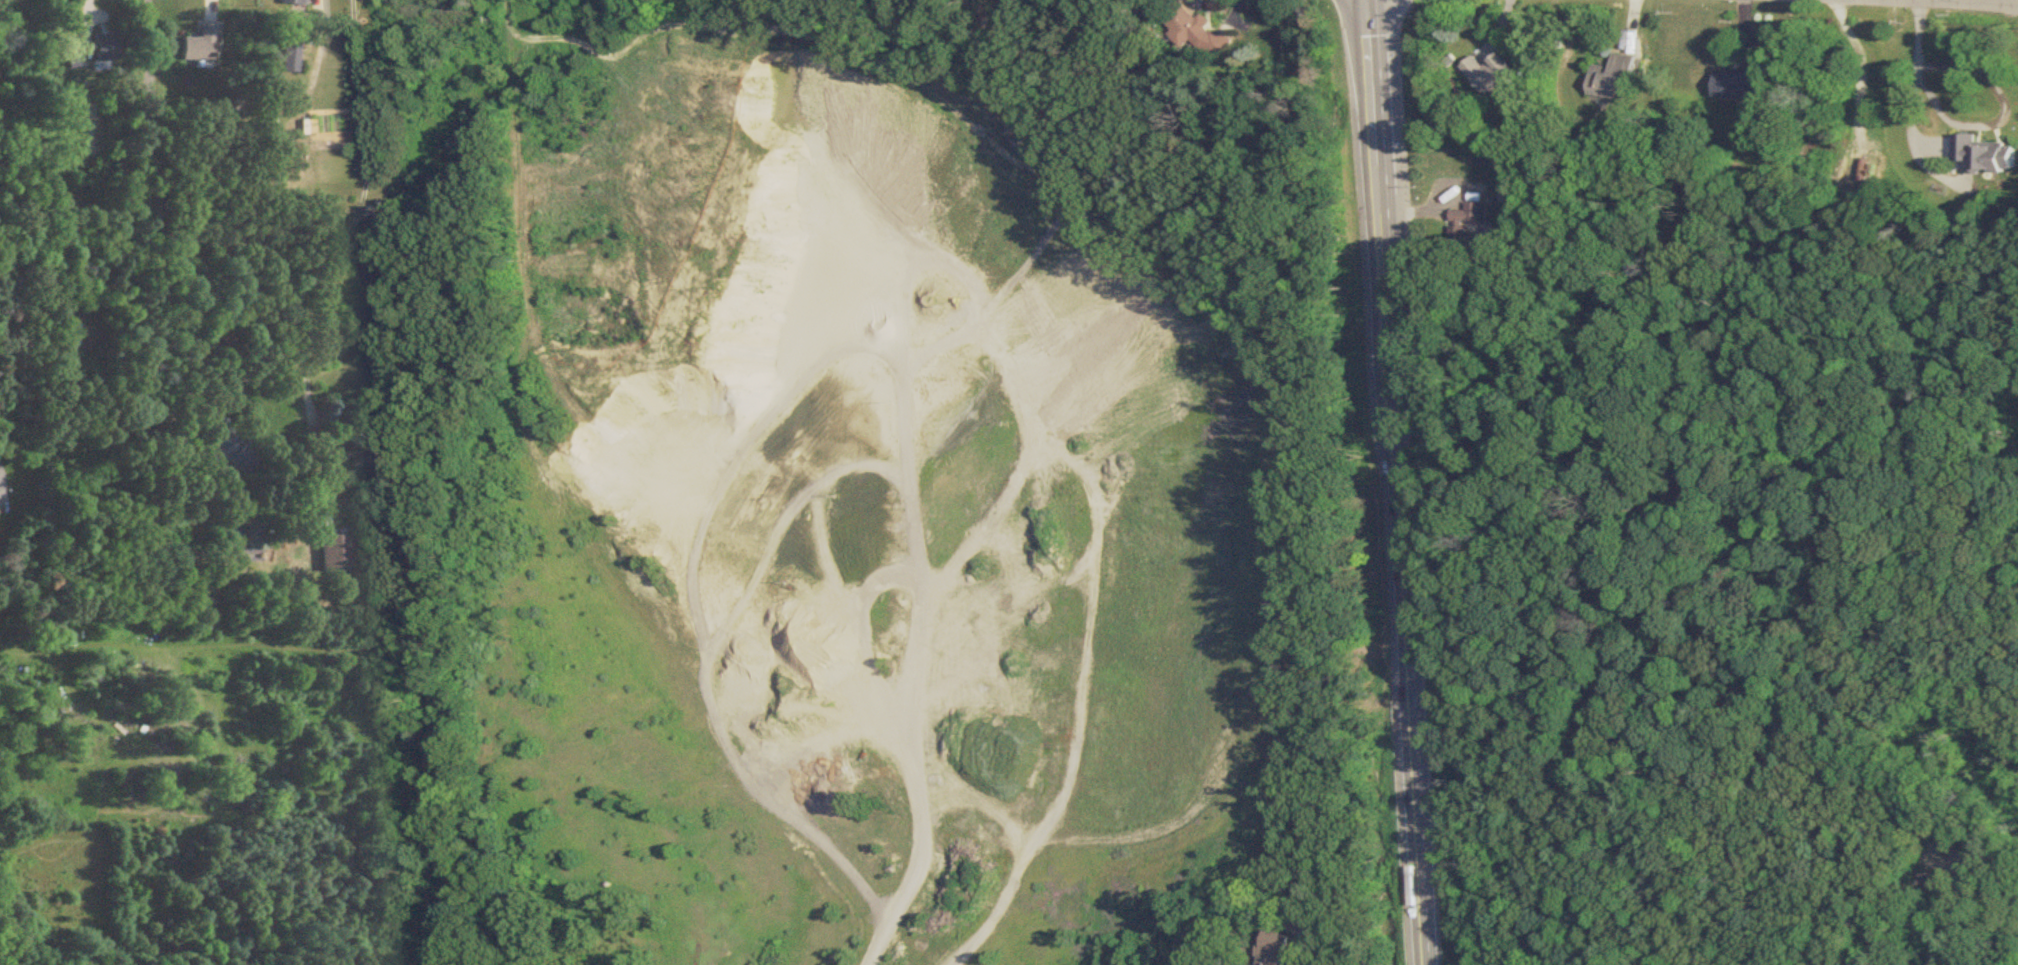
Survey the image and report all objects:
building: (291, 2)
road: (1947, 3)
road: (1998, 3)
building: (1203, 31)
building: (196, 45)
building: (106, 47)
building: (1493, 75)
road: (1916, 75)
building: (1615, 80)
building: (1744, 85)
road: (2006, 120)
building: (1988, 155)
road: (158, 190)
road: (361, 214)
building: (1471, 215)
road: (19, 247)
building: (73, 335)
building: (224, 453)
building: (393, 466)
road: (1395, 482)
road: (199, 493)
building: (251, 534)
building: (332, 554)
road: (1678, 648)
park: (1699, 720)
road: (1978, 866)
building: (1938, 876)
building: (1274, 948)
road: (2015, 960)
road: (1311, 963)

